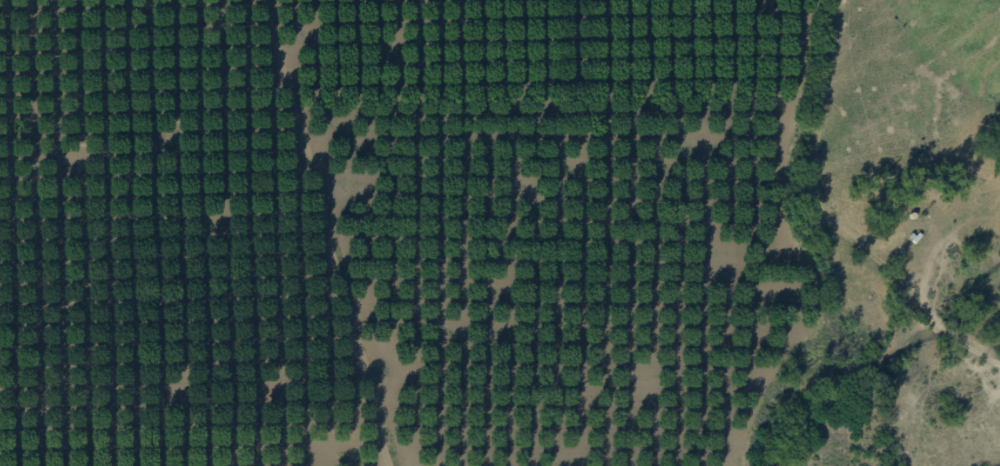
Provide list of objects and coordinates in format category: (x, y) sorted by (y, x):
road: (643, 222)

